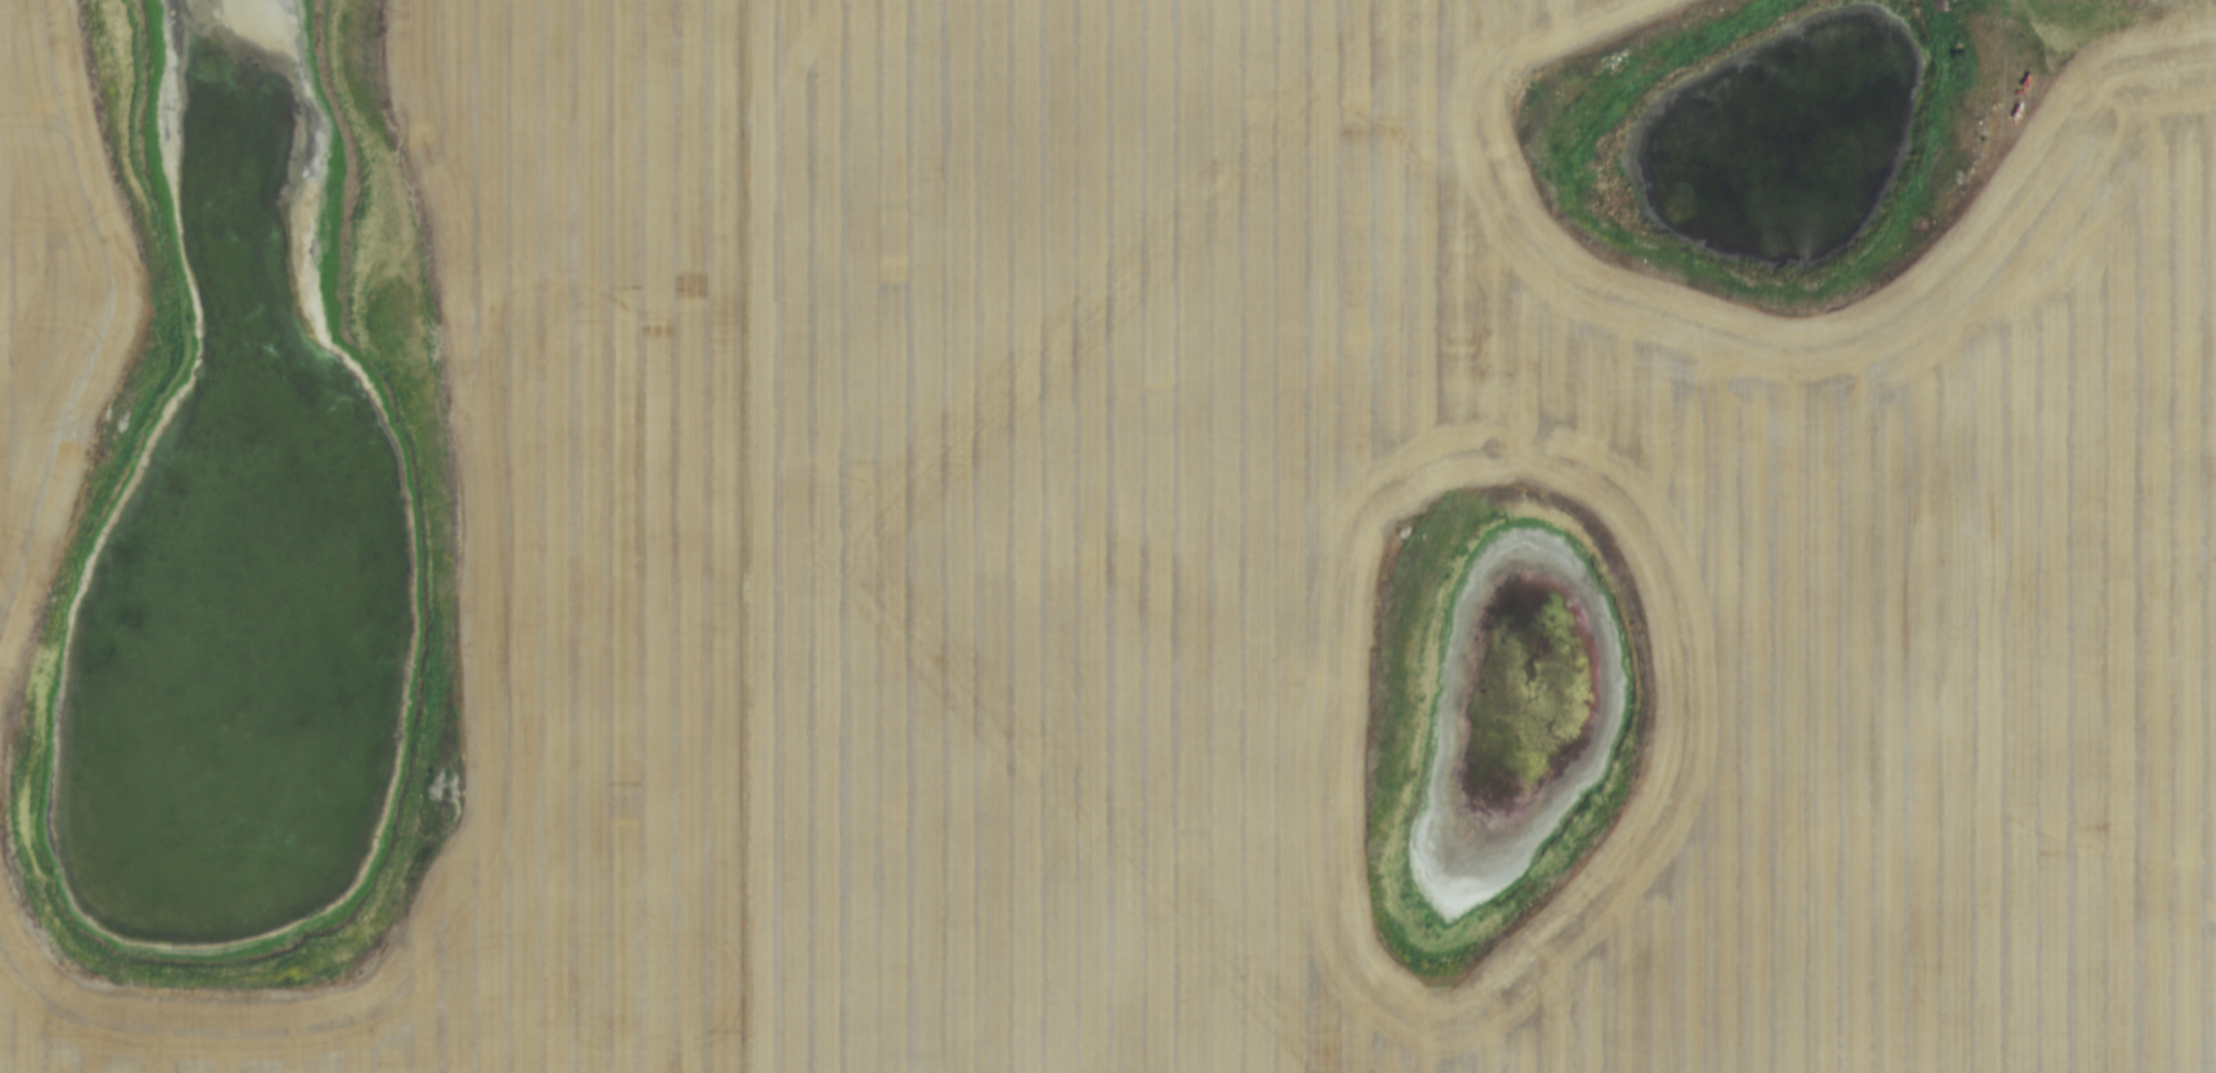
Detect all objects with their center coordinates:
building: (2191, 395)
road: (745, 536)

